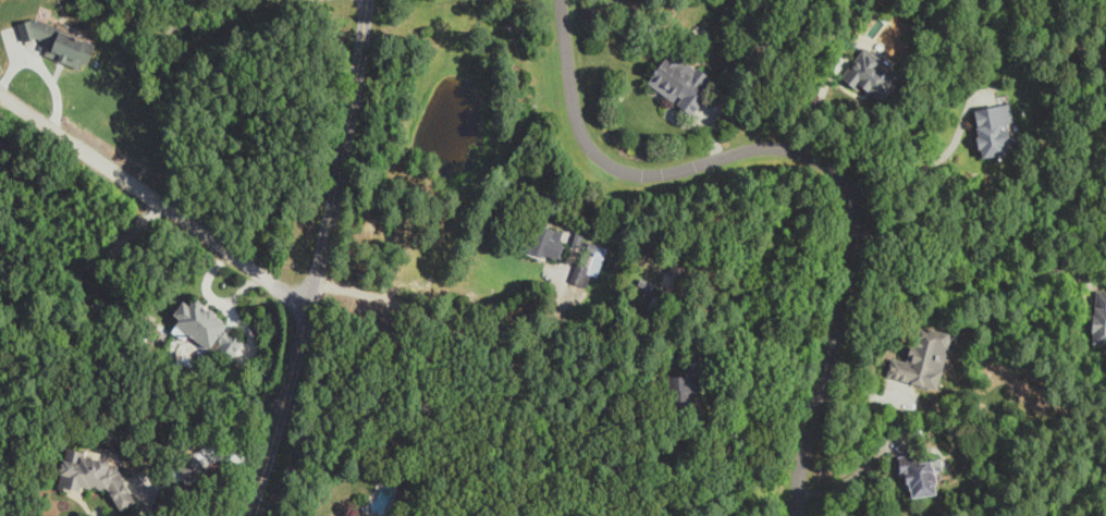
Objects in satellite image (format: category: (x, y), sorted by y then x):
building: (56, 44)
building: (867, 75)
building: (677, 82)
building: (988, 130)
road: (808, 161)
road: (920, 170)
road: (149, 206)
building: (543, 243)
building: (593, 250)
road: (319, 260)
road: (85, 262)
road: (980, 272)
building: (1098, 318)
building: (205, 330)
road: (468, 337)
building: (919, 358)
road: (767, 386)
building: (678, 396)
road: (858, 472)
building: (91, 475)
building: (915, 476)

